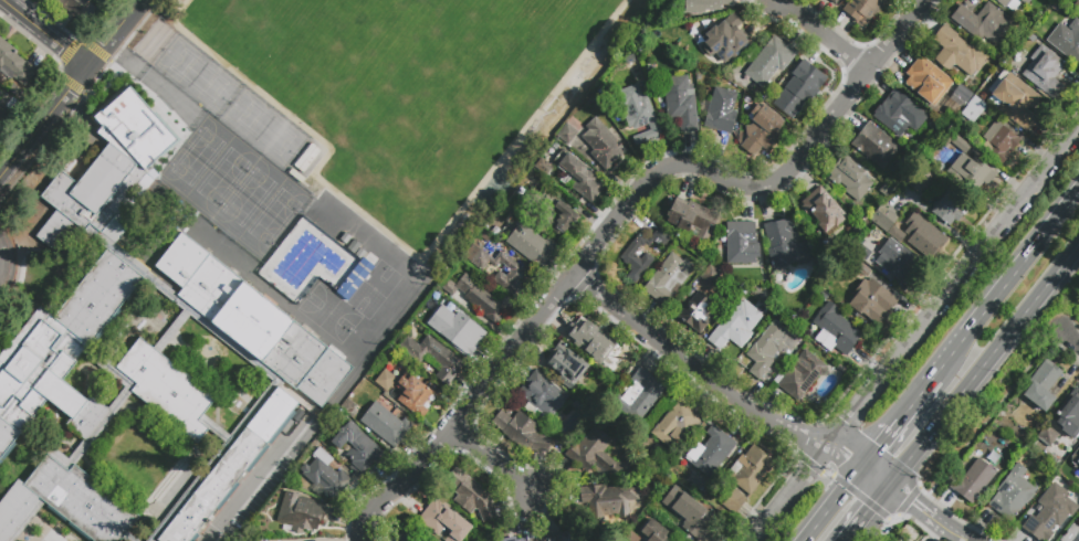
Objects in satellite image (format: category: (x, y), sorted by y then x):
building: (835, 1)
building: (1012, 3)
building: (706, 6)
building: (1076, 6)
building: (73, 7)
building: (866, 10)
park: (107, 19)
building: (982, 22)
road: (44, 34)
road: (114, 34)
road: (826, 34)
building: (725, 40)
building: (1066, 42)
building: (957, 53)
building: (768, 61)
building: (13, 66)
building: (1045, 73)
road: (151, 78)
building: (928, 82)
building: (798, 91)
building: (962, 93)
building: (0, 94)
building: (1015, 100)
building: (681, 104)
building: (973, 109)
building: (900, 114)
building: (640, 116)
building: (721, 116)
road: (43, 125)
building: (138, 126)
building: (762, 130)
building: (567, 134)
road: (48, 136)
building: (958, 142)
building: (999, 142)
building: (578, 145)
building: (603, 145)
building: (876, 146)
park: (233, 156)
building: (972, 171)
building: (577, 178)
building: (849, 179)
building: (921, 182)
road: (763, 184)
building: (884, 190)
building: (90, 194)
building: (950, 209)
building: (823, 211)
building: (556, 218)
building: (692, 221)
building: (889, 224)
building: (922, 235)
building: (741, 244)
building: (785, 245)
road: (395, 246)
building: (531, 246)
building: (862, 253)
building: (629, 257)
road: (0, 261)
building: (899, 264)
building: (863, 269)
building: (516, 274)
building: (711, 275)
building: (358, 278)
building: (669, 278)
road: (953, 285)
road: (1007, 286)
building: (482, 300)
building: (871, 301)
building: (695, 316)
building: (253, 320)
building: (734, 327)
building: (835, 330)
building: (453, 331)
road: (1068, 335)
building: (594, 343)
building: (766, 349)
building: (61, 353)
building: (433, 358)
building: (565, 365)
road: (694, 365)
road: (984, 367)
building: (800, 375)
building: (1043, 385)
building: (167, 388)
building: (407, 392)
building: (541, 396)
building: (639, 397)
road: (918, 399)
road: (467, 409)
road: (992, 411)
building: (1062, 421)
building: (677, 423)
building: (386, 425)
building: (524, 434)
road: (882, 443)
traffic signals: (881, 446)
building: (357, 447)
road: (848, 449)
building: (713, 454)
road: (846, 454)
building: (596, 455)
traffic signals: (848, 456)
building: (1075, 457)
road: (493, 460)
road: (844, 463)
traffic signals: (844, 463)
building: (230, 466)
road: (815, 468)
building: (750, 470)
building: (1073, 470)
road: (827, 474)
road: (877, 475)
building: (324, 476)
road: (840, 480)
building: (973, 481)
road: (251, 491)
road: (788, 491)
road: (922, 491)
road: (914, 492)
building: (1012, 494)
traffic signals: (918, 496)
building: (472, 499)
building: (609, 499)
road: (907, 500)
building: (734, 501)
road: (868, 501)
traffic signals: (912, 502)
building: (65, 503)
road: (835, 503)
road: (913, 503)
road: (871, 508)
road: (910, 509)
traffic signals: (870, 510)
building: (301, 515)
building: (689, 516)
road: (892, 517)
building: (1046, 520)
building: (444, 522)
building: (653, 531)
road: (952, 531)
building: (1071, 534)
building: (406, 537)
building: (561, 537)
road: (848, 537)
building: (521, 539)
building: (531, 540)
building: (902, 540)

